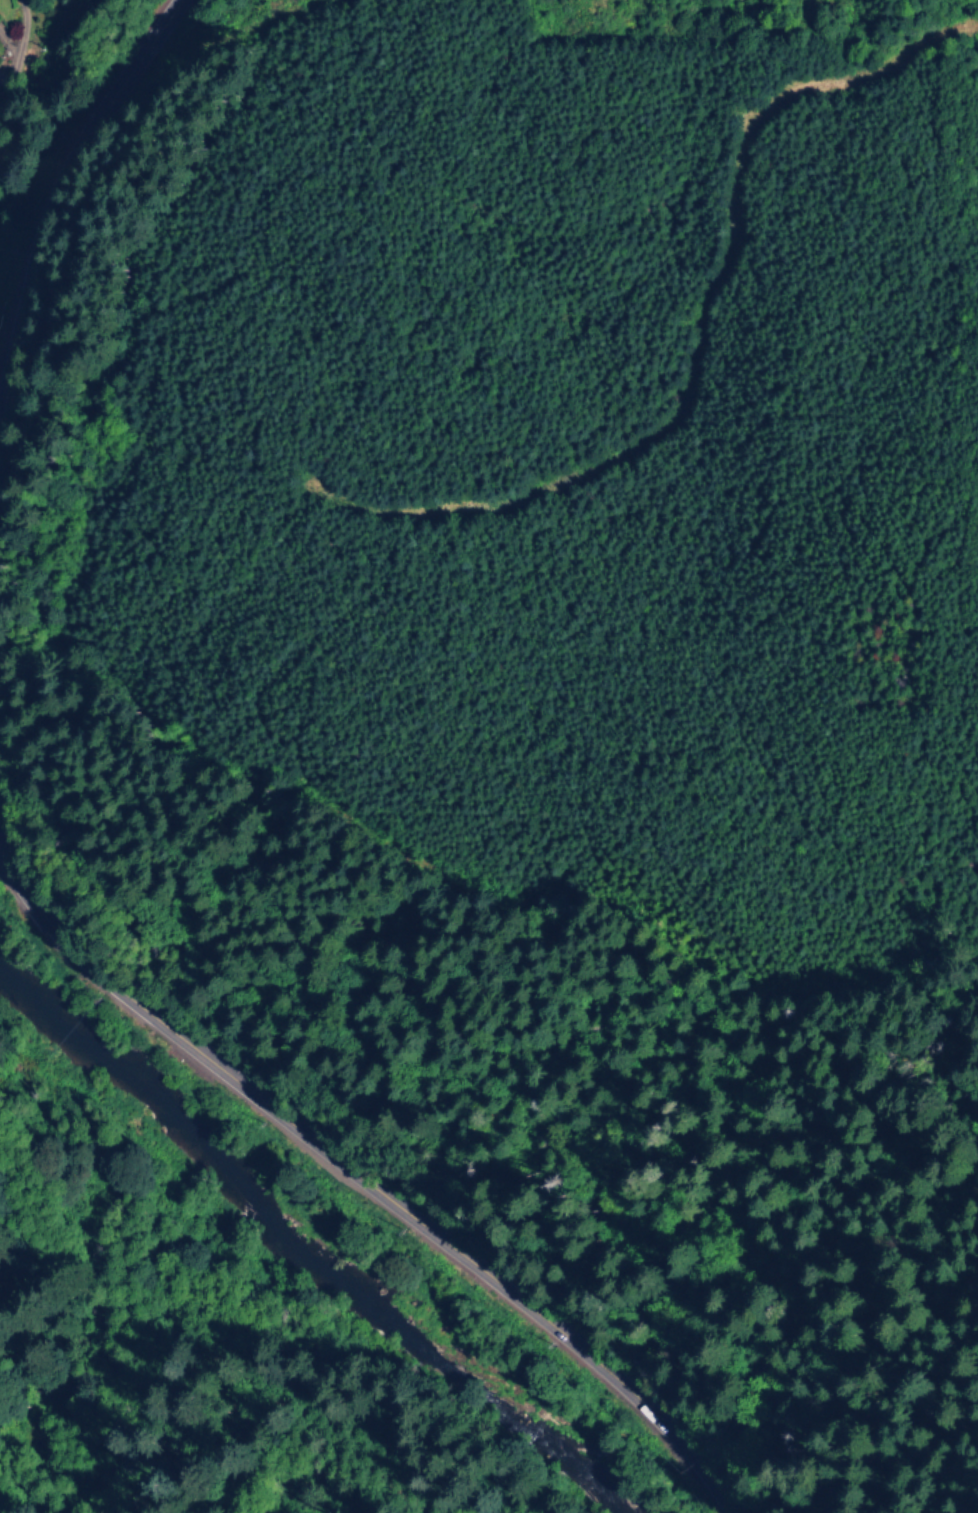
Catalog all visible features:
road: (64, 198)
road: (364, 1197)
river: (290, 1258)

